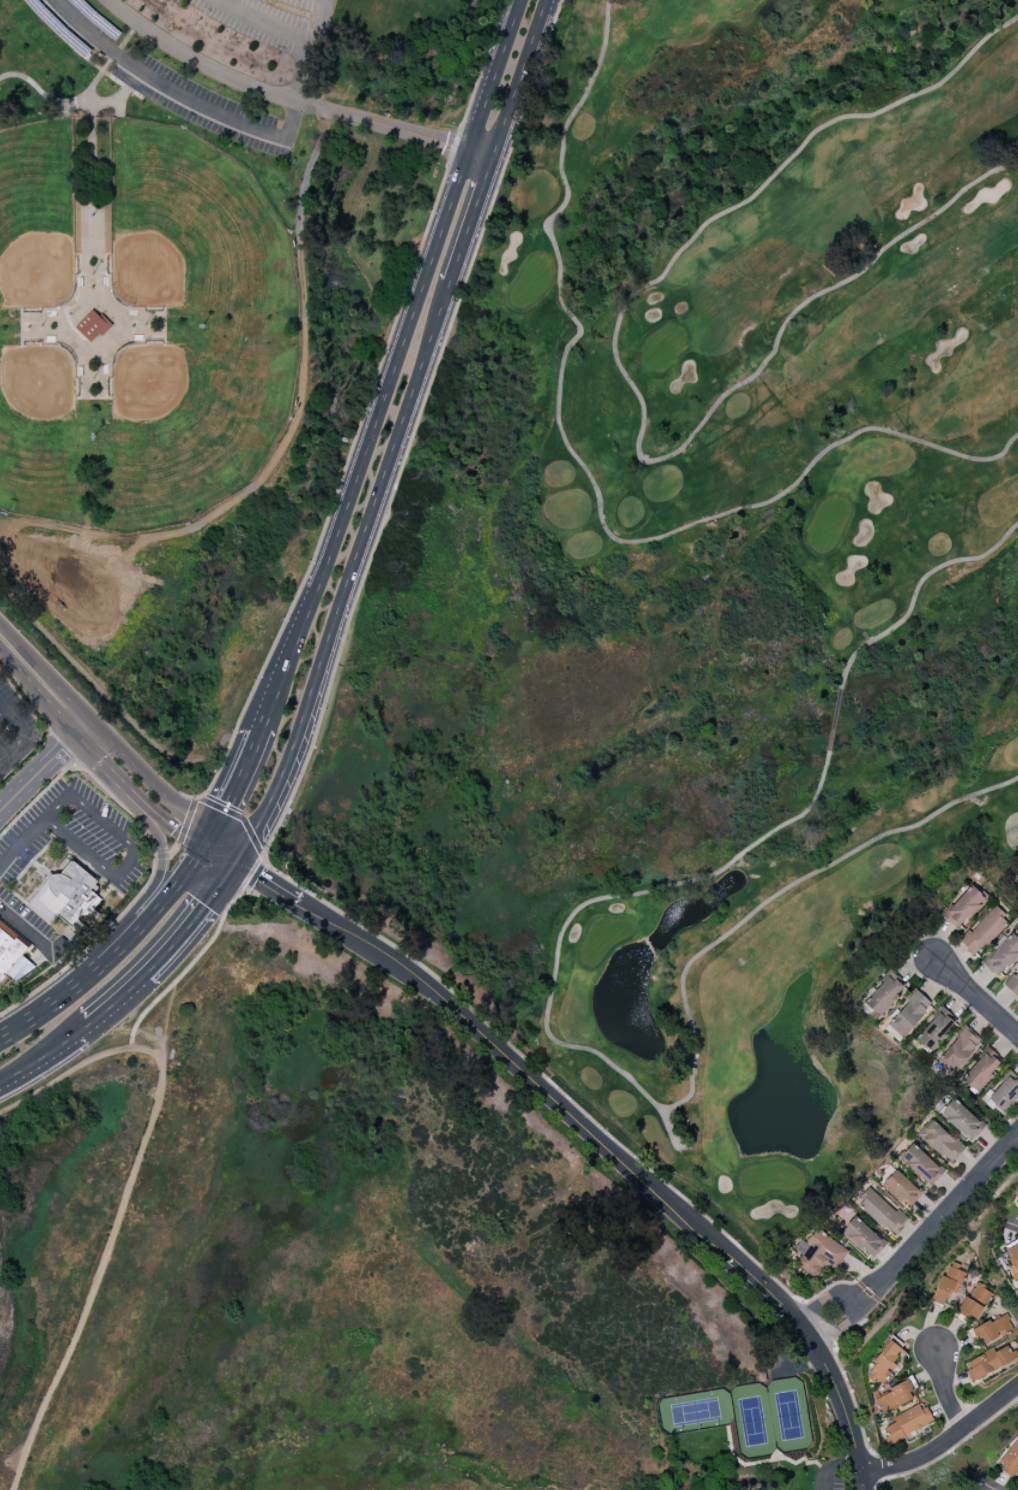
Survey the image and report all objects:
parking lot: (272, 20)
road: (263, 22)
road: (80, 53)
road: (481, 74)
road: (520, 77)
parking lot: (162, 81)
road: (290, 99)
road: (65, 105)
road: (224, 116)
road: (469, 217)
park: (199, 320)
building: (91, 325)
park: (137, 325)
road: (393, 367)
road: (415, 430)
road: (340, 484)
road: (350, 574)
park: (689, 583)
road: (41, 682)
road: (107, 694)
road: (2, 710)
road: (13, 719)
parking lot: (15, 729)
road: (88, 743)
road: (10, 749)
road: (41, 769)
road: (152, 778)
road: (234, 786)
road: (149, 805)
road: (240, 817)
road: (181, 834)
parking lot: (73, 835)
road: (22, 842)
traffic signals: (210, 842)
road: (161, 849)
road: (223, 850)
road: (131, 853)
road: (154, 856)
traffic signals: (237, 859)
road: (254, 875)
building: (69, 898)
road: (165, 898)
building: (963, 907)
parking lot: (25, 912)
road: (27, 929)
building: (983, 932)
road: (165, 948)
building: (12, 955)
building: (1003, 956)
road: (189, 963)
building: (1013, 983)
building: (884, 995)
road: (60, 996)
road: (977, 998)
building: (909, 1011)
building: (934, 1030)
building: (958, 1051)
road: (41, 1055)
road: (538, 1070)
building: (980, 1073)
building: (1003, 1091)
building: (961, 1119)
road: (593, 1139)
building: (940, 1141)
building: (920, 1164)
building: (902, 1188)
road: (125, 1194)
building: (1017, 1200)
building: (881, 1212)
road: (1013, 1226)
building: (862, 1238)
road: (916, 1238)
park: (311, 1251)
building: (819, 1254)
building: (1013, 1261)
road: (926, 1276)
building: (948, 1284)
building: (975, 1302)
building: (993, 1329)
building: (884, 1361)
building: (987, 1363)
road: (945, 1389)
building: (894, 1398)
building: (908, 1422)
road: (946, 1444)
building: (1010, 1461)
road: (830, 1468)
road: (987, 1486)

